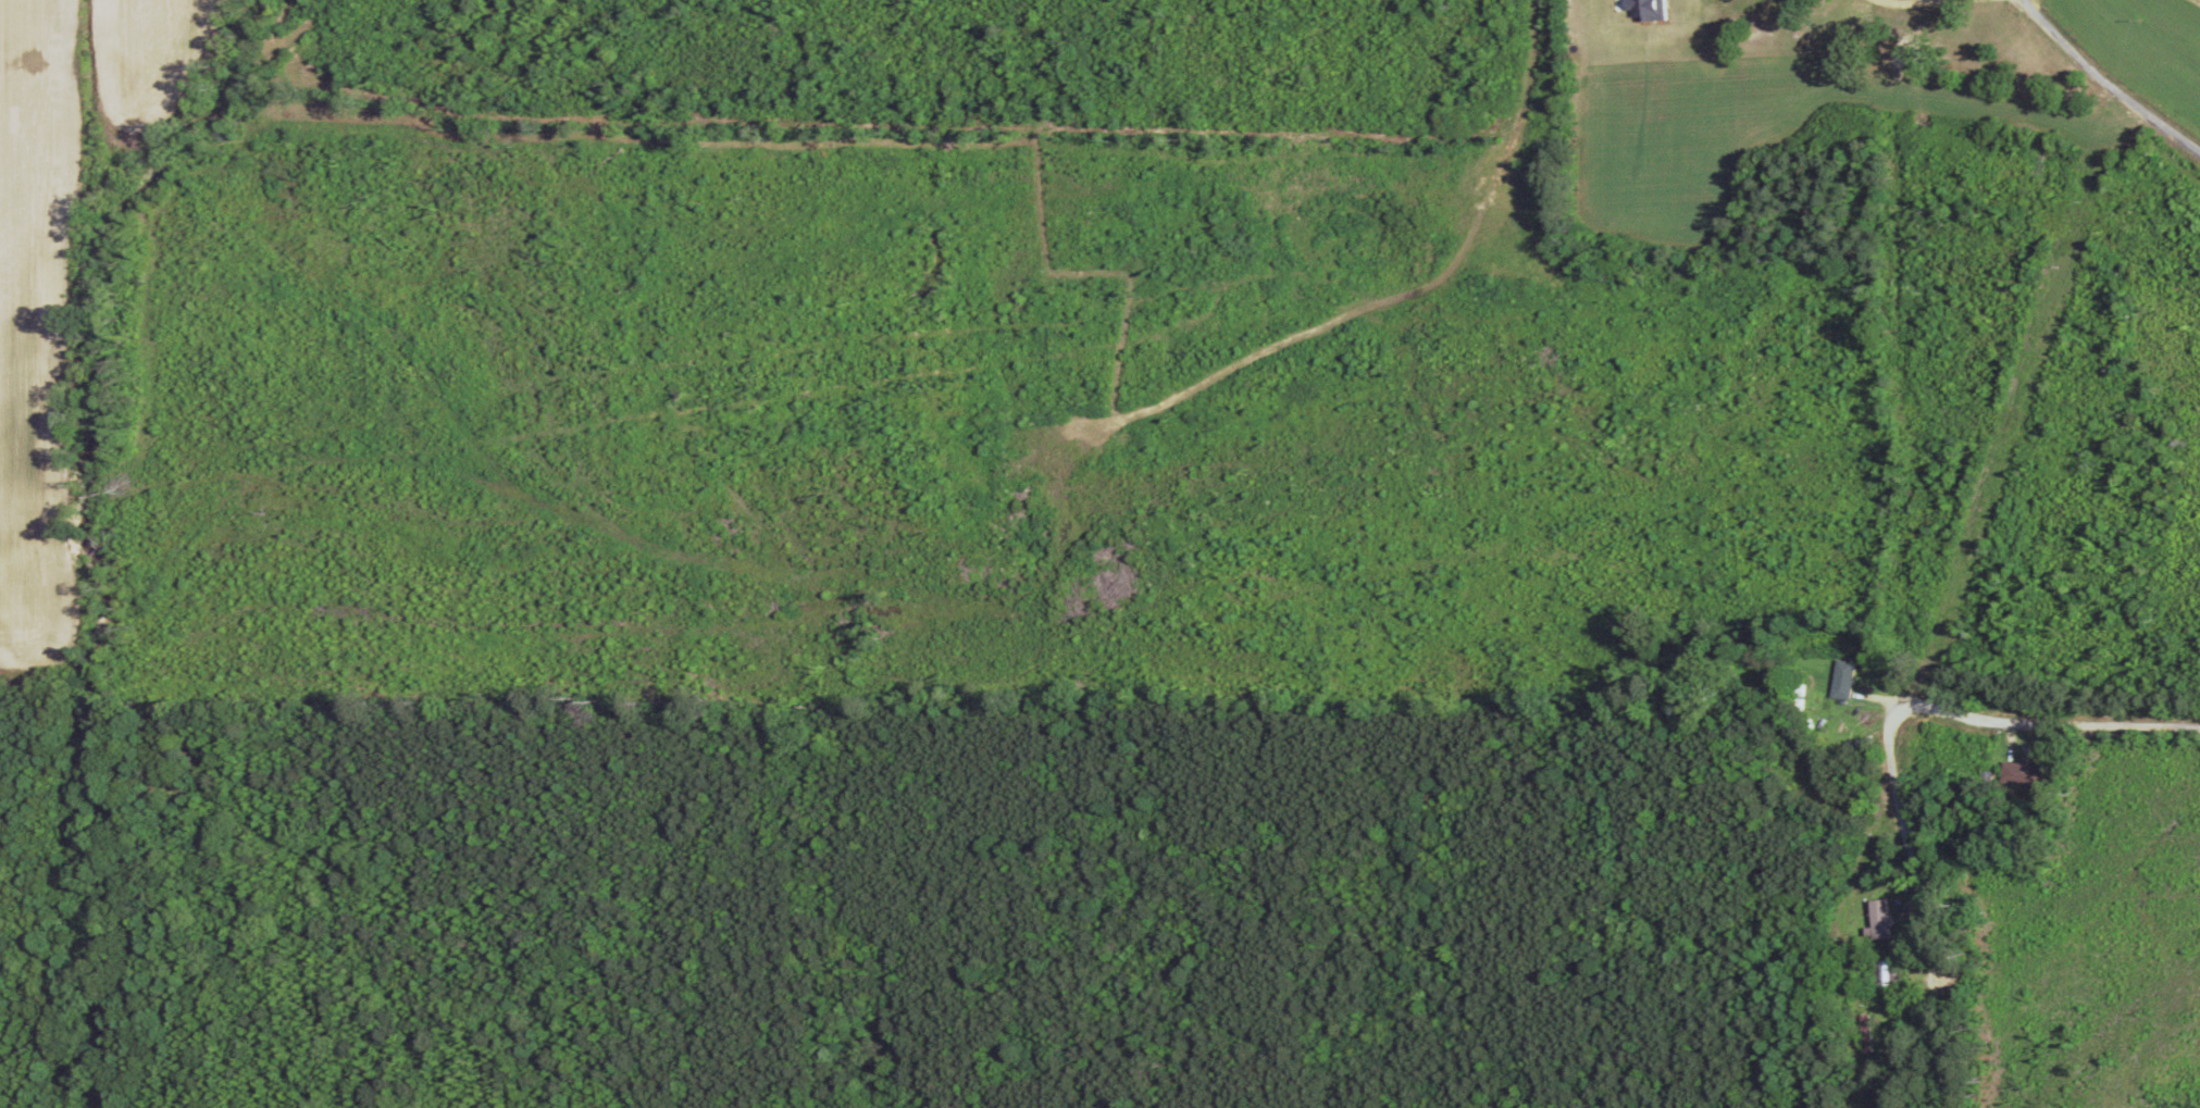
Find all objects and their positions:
road: (2106, 83)
building: (1839, 680)
road: (1905, 711)
building: (2019, 774)
building: (1876, 919)
building: (1886, 972)
building: (1863, 1034)

